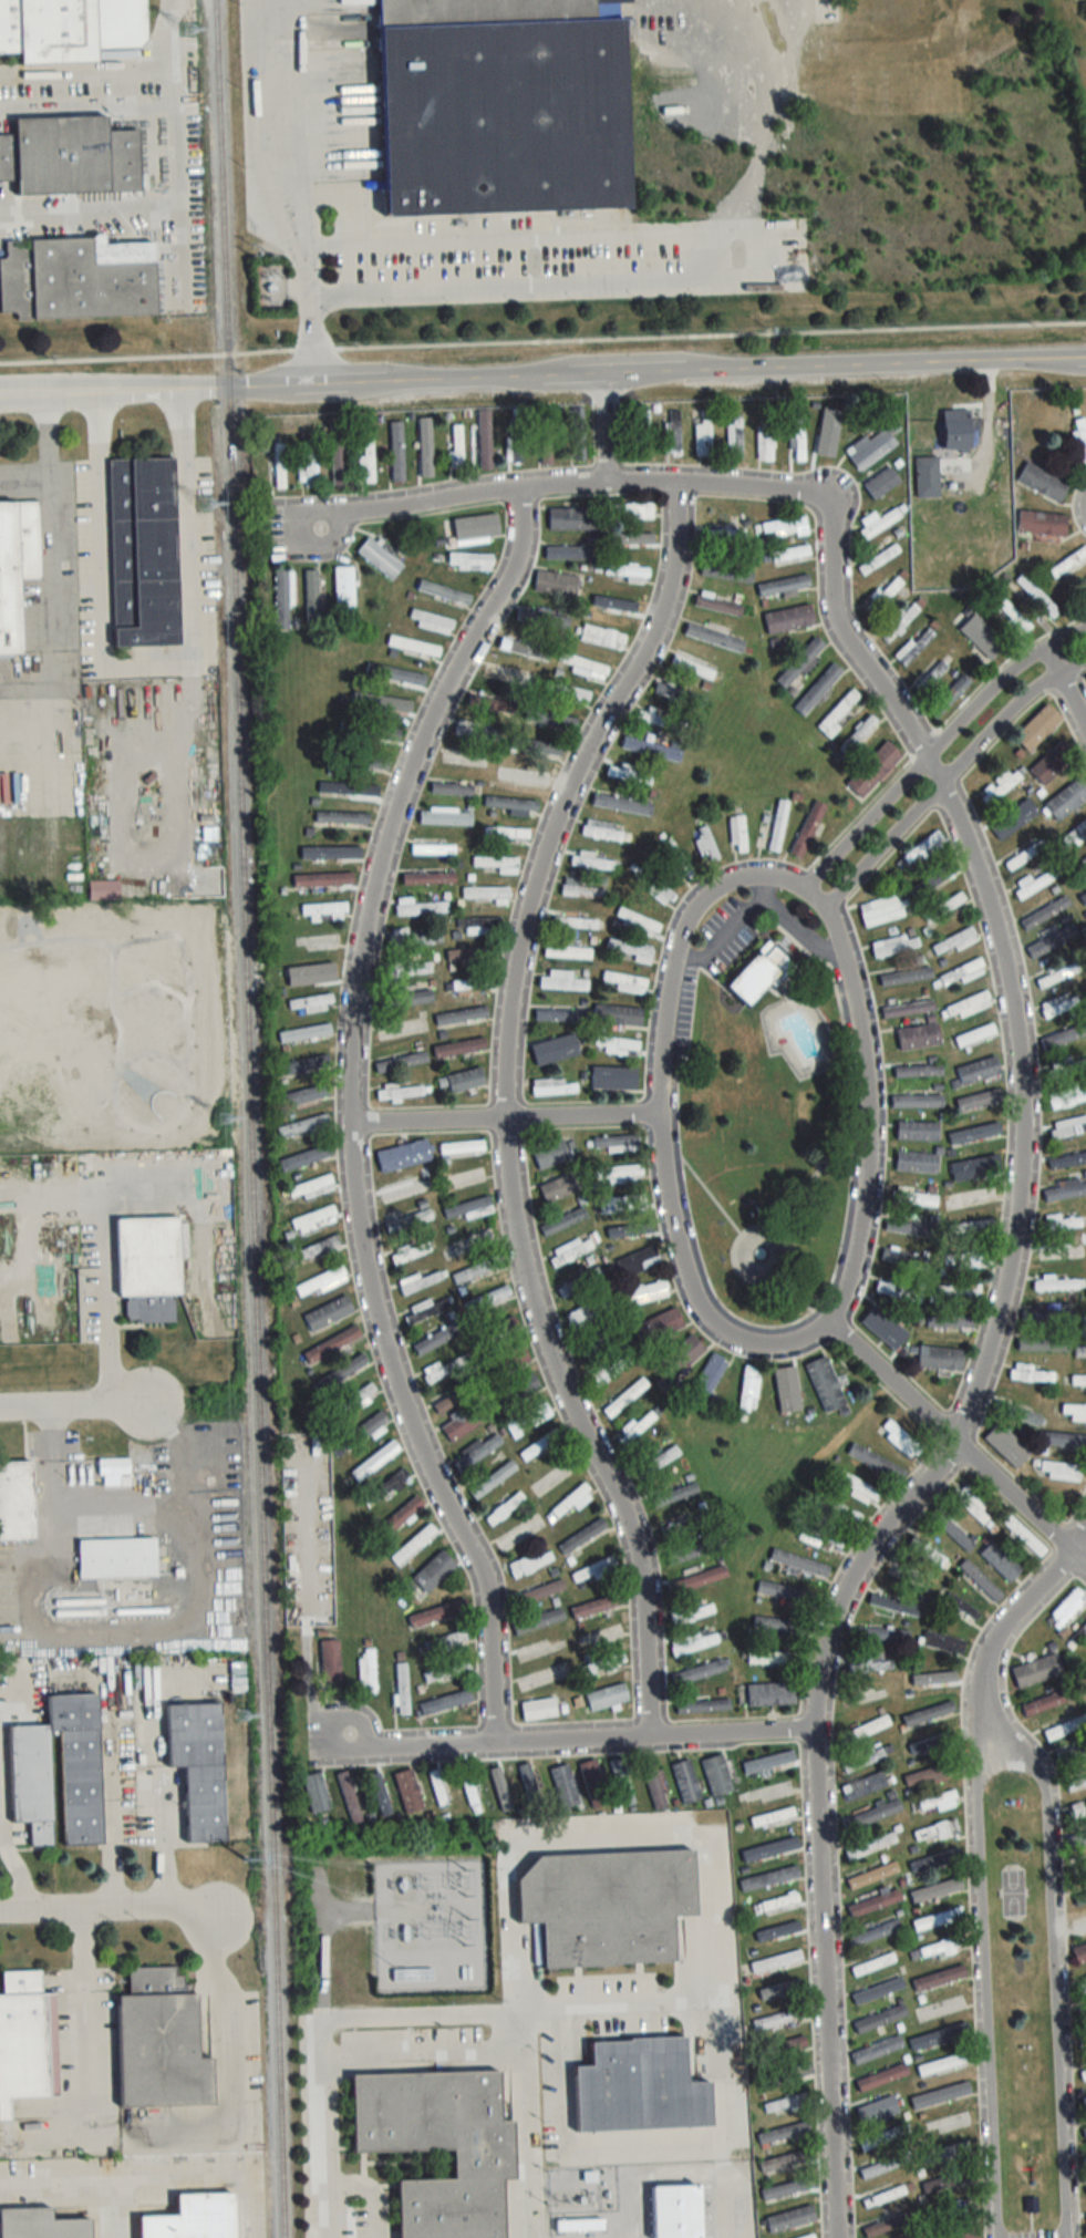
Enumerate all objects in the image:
building: (70, 28)
power tower: (187, 28)
road: (172, 33)
road: (86, 70)
road: (86, 105)
building: (498, 110)
road: (176, 135)
building: (70, 156)
road: (291, 190)
road: (91, 207)
road: (0, 214)
road: (487, 240)
building: (77, 278)
power substation: (268, 287)
road: (593, 287)
road: (632, 375)
road: (137, 390)
road: (48, 393)
building: (671, 430)
building: (956, 430)
road: (604, 431)
building: (642, 433)
building: (578, 434)
building: (703, 436)
building: (485, 439)
building: (765, 439)
building: (798, 439)
building: (516, 440)
building: (734, 440)
building: (1079, 440)
building: (456, 446)
building: (870, 448)
building: (396, 451)
building: (338, 455)
road: (48, 460)
building: (366, 462)
building: (307, 464)
building: (279, 465)
building: (927, 476)
building: (881, 482)
building: (1042, 482)
road: (566, 486)
power tower: (205, 504)
building: (631, 509)
building: (572, 518)
building: (878, 522)
building: (1042, 523)
building: (786, 526)
building: (725, 533)
road: (51, 551)
building: (144, 551)
building: (789, 553)
building: (381, 558)
building: (878, 558)
building: (470, 560)
building: (1068, 564)
building: (15, 566)
building: (627, 570)
building: (723, 573)
building: (1085, 577)
building: (556, 584)
building: (784, 584)
building: (343, 586)
building: (886, 590)
building: (444, 592)
building: (311, 596)
building: (1036, 596)
building: (282, 599)
building: (718, 605)
building: (1011, 613)
building: (542, 618)
building: (789, 619)
building: (431, 621)
building: (978, 630)
building: (603, 637)
building: (714, 637)
building: (914, 646)
building: (413, 647)
road: (147, 661)
building: (799, 662)
building: (585, 667)
building: (693, 667)
building: (395, 674)
building: (932, 675)
road: (1067, 685)
building: (818, 689)
building: (571, 692)
building: (679, 694)
building: (949, 695)
building: (382, 702)
building: (485, 704)
building: (838, 712)
building: (551, 719)
building: (659, 720)
building: (1037, 728)
building: (356, 730)
building: (472, 731)
building: (390, 734)
building: (856, 738)
building: (536, 746)
road: (934, 749)
building: (651, 750)
building: (370, 762)
building: (1052, 763)
building: (873, 770)
road: (943, 774)
building: (629, 775)
building: (525, 776)
building: (999, 786)
building: (349, 790)
building: (452, 790)
building: (1066, 800)
building: (511, 805)
building: (622, 805)
building: (444, 816)
building: (342, 818)
building: (778, 826)
building: (808, 831)
building: (506, 833)
building: (737, 835)
building: (1075, 835)
building: (705, 845)
building: (337, 847)
building: (923, 847)
building: (433, 849)
building: (1024, 855)
building: (678, 858)
building: (591, 862)
building: (497, 864)
building: (428, 878)
building: (323, 879)
building: (931, 881)
building: (655, 888)
building: (104, 890)
building: (582, 891)
building: (486, 894)
building: (418, 907)
building: (944, 907)
building: (880, 910)
building: (325, 911)
building: (1044, 912)
building: (637, 922)
building: (479, 926)
building: (1084, 930)
building: (416, 938)
building: (953, 941)
building: (1051, 941)
building: (893, 945)
building: (629, 950)
building: (568, 952)
building: (468, 953)
building: (407, 969)
building: (960, 972)
building: (313, 973)
building: (758, 973)
building: (906, 976)
building: (1056, 976)
building: (561, 981)
building: (623, 982)
building: (472, 983)
building: (406, 998)
building: (1057, 1004)
building: (966, 1005)
building: (907, 1009)
building: (462, 1015)
building: (560, 1015)
building: (618, 1015)
building: (304, 1033)
building: (973, 1035)
building: (918, 1037)
building: (1064, 1037)
building: (618, 1046)
building: (461, 1048)
building: (401, 1061)
building: (303, 1065)
building: (1062, 1068)
building: (918, 1071)
building: (978, 1071)
building: (466, 1080)
building: (556, 1090)
building: (400, 1092)
building: (306, 1095)
building: (1066, 1097)
building: (917, 1101)
building: (978, 1101)
road: (507, 1107)
road: (348, 1111)
road: (660, 1113)
road: (866, 1113)
power tower: (224, 1116)
railway: (246, 1118)
road: (504, 1123)
building: (303, 1125)
building: (1067, 1127)
building: (917, 1132)
building: (979, 1133)
building: (612, 1144)
park: (766, 1146)
building: (462, 1147)
building: (551, 1154)
building: (405, 1155)
building: (304, 1157)
building: (917, 1163)
building: (970, 1169)
building: (619, 1175)
building: (311, 1187)
building: (561, 1187)
building: (1064, 1192)
building: (914, 1198)
building: (971, 1198)
building: (620, 1204)
building: (472, 1208)
building: (313, 1219)
building: (411, 1220)
building: (563, 1221)
building: (1063, 1223)
building: (970, 1227)
building: (911, 1229)
building: (634, 1230)
building: (468, 1244)
building: (318, 1249)
building: (570, 1250)
building: (1057, 1250)
building: (412, 1252)
building: (904, 1258)
building: (963, 1259)
building: (638, 1260)
road: (106, 1262)
building: (148, 1266)
building: (477, 1269)
building: (579, 1281)
building: (320, 1282)
building: (417, 1282)
building: (897, 1290)
building: (956, 1290)
building: (645, 1292)
building: (425, 1310)
building: (587, 1312)
building: (329, 1313)
building: (1048, 1314)
building: (950, 1321)
building: (1084, 1321)
building: (660, 1326)
building: (885, 1328)
building: (494, 1330)
building: (436, 1340)
building: (598, 1341)
building: (332, 1344)
building: (1043, 1344)
building: (686, 1351)
building: (1079, 1351)
building: (940, 1359)
building: (508, 1362)
building: (442, 1370)
road: (983, 1370)
building: (609, 1371)
building: (342, 1373)
building: (1028, 1373)
building: (710, 1375)
building: (1078, 1380)
building: (825, 1384)
building: (748, 1389)
building: (518, 1391)
building: (783, 1393)
building: (453, 1399)
building: (624, 1399)
building: (355, 1400)
road: (75, 1404)
building: (1075, 1412)
building: (1017, 1413)
building: (528, 1420)
building: (466, 1421)
building: (634, 1429)
building: (361, 1433)
building: (899, 1438)
building: (1064, 1438)
road: (959, 1442)
building: (539, 1445)
building: (477, 1452)
building: (374, 1461)
building: (660, 1461)
building: (876, 1461)
building: (114, 1467)
building: (1059, 1471)
building: (554, 1477)
building: (493, 1479)
building: (856, 1484)
building: (389, 1486)
building: (674, 1495)
building: (17, 1500)
building: (572, 1500)
road: (117, 1502)
building: (970, 1503)
building: (505, 1508)
building: (837, 1508)
building: (396, 1518)
building: (685, 1524)
building: (951, 1529)
building: (520, 1534)
building: (1024, 1535)
building: (582, 1536)
building: (818, 1536)
building: (413, 1545)
building: (691, 1550)
building: (928, 1553)
building: (117, 1559)
building: (1001, 1560)
building: (799, 1561)
building: (528, 1564)
building: (434, 1570)
building: (593, 1570)
building: (700, 1578)
building: (980, 1580)
building: (539, 1591)
building: (786, 1591)
building: (894, 1605)
building: (598, 1606)
building: (961, 1606)
building: (1066, 1609)
building: (438, 1611)
building: (689, 1613)
road: (1016, 1617)
building: (538, 1621)
building: (778, 1623)
road: (113, 1630)
building: (882, 1633)
building: (447, 1641)
building: (940, 1641)
building: (694, 1642)
building: (532, 1650)
building: (773, 1658)
building: (331, 1661)
building: (868, 1663)
building: (602, 1665)
building: (446, 1669)
building: (366, 1670)
building: (699, 1671)
building: (1036, 1671)
building: (1084, 1671)
building: (929, 1681)
building: (402, 1688)
building: (770, 1693)
building: (607, 1696)
building: (1049, 1701)
building: (444, 1702)
building: (703, 1705)
building: (539, 1709)
building: (928, 1713)
power tower: (240, 1714)
building: (1065, 1728)
building: (866, 1729)
road: (576, 1742)
building: (1073, 1754)
building: (861, 1759)
building: (768, 1761)
building: (199, 1765)
building: (716, 1774)
building: (924, 1775)
building: (30, 1777)
building: (621, 1781)
building: (685, 1781)
building: (653, 1782)
building: (596, 1783)
building: (1075, 1783)
building: (528, 1785)
building: (565, 1785)
building: (863, 1786)
building: (437, 1787)
building: (407, 1790)
building: (470, 1790)
building: (314, 1792)
building: (348, 1796)
road: (112, 1802)
building: (939, 1802)
building: (1077, 1811)
building: (872, 1815)
road: (3, 1818)
building: (772, 1818)
building: (934, 1832)
building: (1077, 1839)
building: (870, 1846)
power tower: (245, 1857)
building: (935, 1860)
building: (872, 1875)
building: (769, 1877)
building: (938, 1889)
building: (1079, 1898)
building: (778, 1901)
building: (875, 1902)
building: (609, 1904)
road: (348, 1908)
road: (108, 1910)
building: (938, 1919)
building: (1085, 1920)
power substation: (428, 1925)
building: (875, 1932)
building: (776, 1933)
road: (321, 1940)
building: (937, 1948)
building: (1079, 1953)
building: (775, 1962)
road: (1054, 1962)
building: (876, 1963)
building: (940, 1977)
road: (714, 1978)
road: (983, 1980)
building: (1083, 1982)
road: (82, 1983)
building: (779, 1989)
building: (878, 1990)
park: (1018, 2002)
road: (640, 2003)
building: (930, 2011)
building: (1084, 2011)
building: (880, 2018)
building: (778, 2019)
road: (517, 2024)
road: (231, 2029)
building: (937, 2038)
building: (27, 2039)
building: (161, 2042)
building: (1083, 2046)
building: (876, 2049)
building: (941, 2063)
building: (787, 2074)
building: (1083, 2074)
building: (940, 2094)
building: (1084, 2102)
building: (784, 2103)
building: (877, 2110)
building: (948, 2123)
road: (323, 2127)
building: (783, 2133)
building: (1084, 2133)
building: (883, 2136)
building: (439, 2148)
building: (1084, 2162)
building: (782, 2163)
building: (885, 2165)
road: (123, 2183)
building: (942, 2184)
building: (787, 2188)
building: (882, 2196)
building: (1028, 2205)
road: (111, 2210)
building: (676, 2211)
building: (951, 2211)
building: (194, 2218)
building: (790, 2218)
building: (41, 2225)
building: (579, 2225)
building: (806, 2235)

